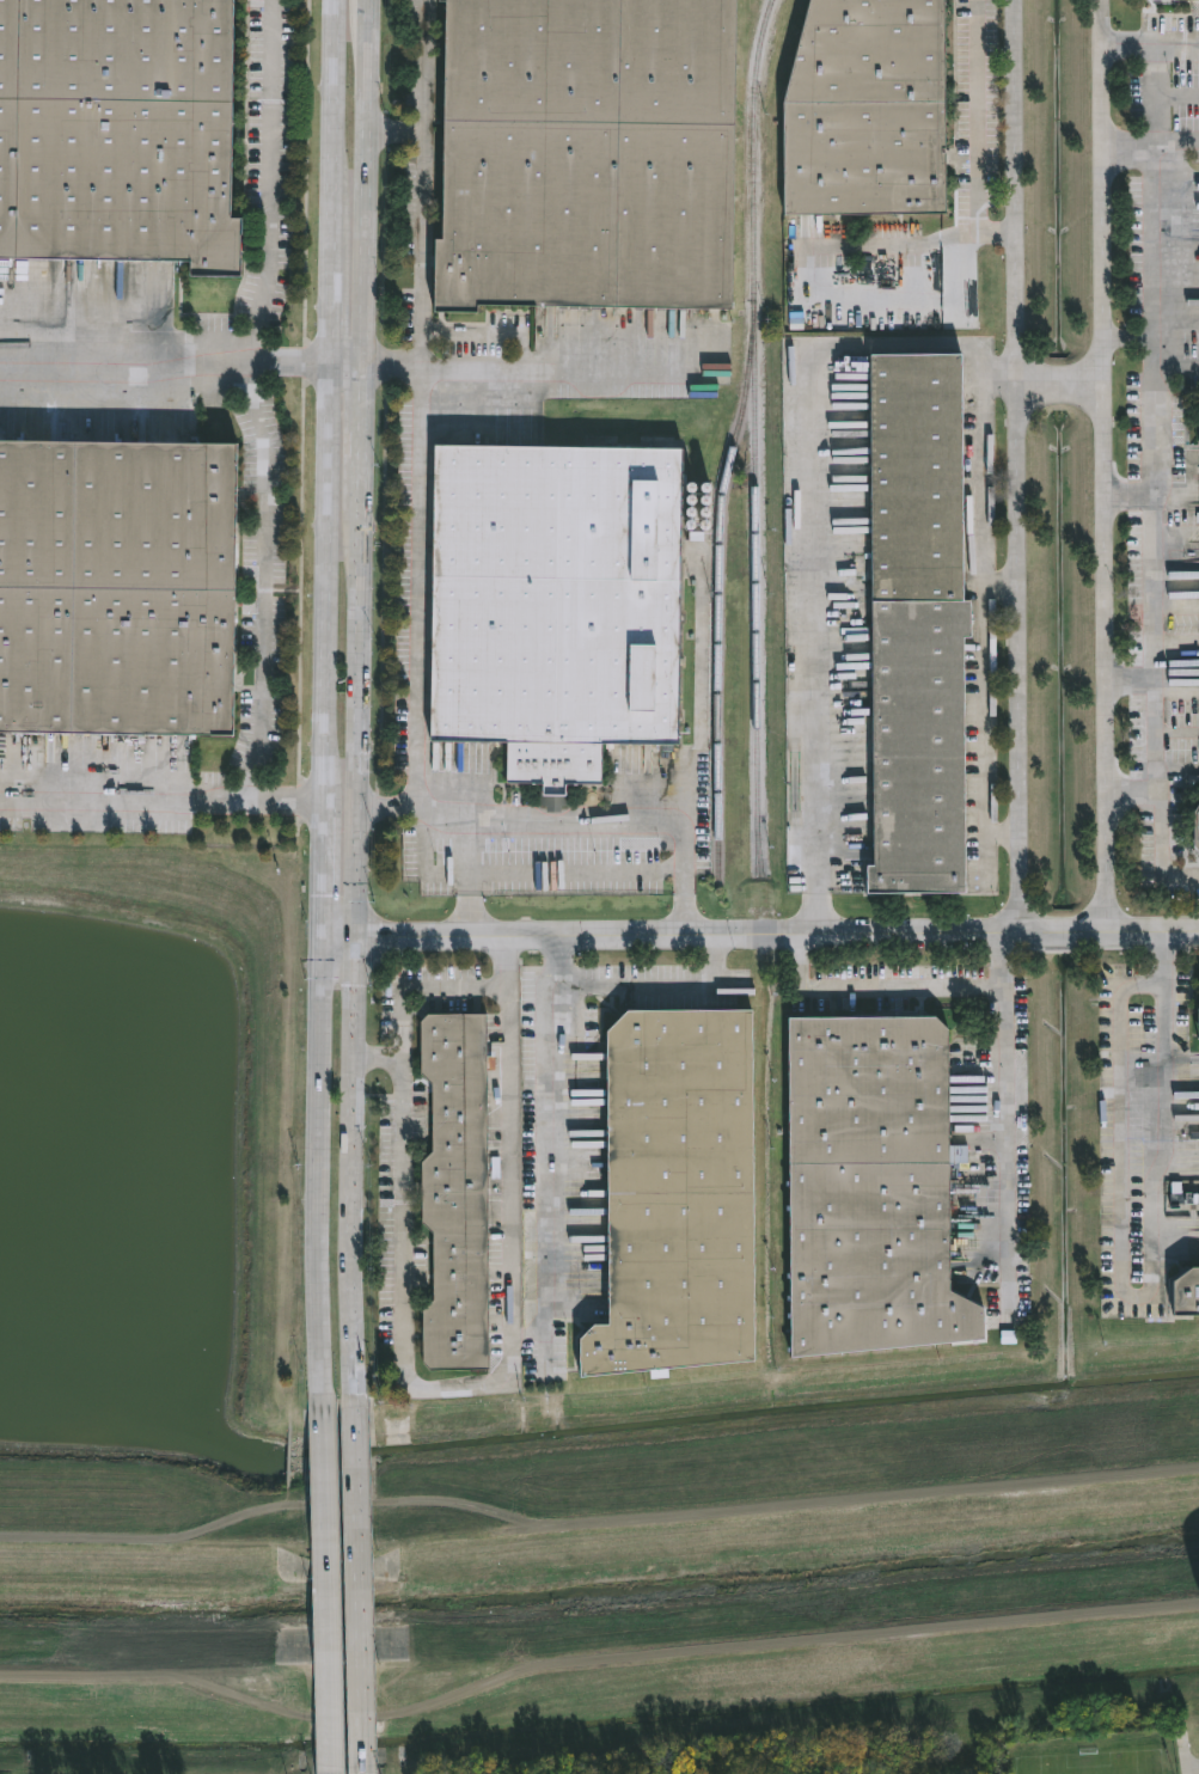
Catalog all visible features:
building: (1168, 0)
road: (1174, 49)
road: (423, 65)
road: (1175, 94)
building: (870, 109)
road: (330, 123)
building: (120, 131)
road: (975, 134)
road: (1175, 139)
building: (592, 154)
road: (1127, 154)
road: (362, 182)
road: (270, 183)
road: (422, 220)
road: (888, 245)
road: (328, 306)
road: (1128, 335)
road: (163, 365)
road: (343, 365)
road: (557, 371)
road: (1155, 396)
road: (359, 423)
road: (1105, 465)
road: (1021, 466)
road: (807, 472)
railway: (754, 473)
road: (1131, 496)
road: (420, 558)
road: (1003, 582)
road: (265, 586)
road: (322, 586)
building: (118, 588)
railway: (718, 588)
building: (559, 605)
building: (920, 625)
road: (985, 635)
road: (1133, 679)
road: (355, 709)
road: (159, 803)
road: (336, 807)
road: (632, 824)
road: (465, 825)
road: (1160, 826)
road: (1005, 836)
road: (317, 871)
railway: (764, 899)
road: (334, 937)
road: (776, 937)
road: (654, 983)
road: (899, 987)
road: (552, 1114)
road: (1007, 1144)
road: (353, 1156)
road: (316, 1157)
building: (874, 1189)
building: (459, 1194)
building: (681, 1195)
road: (1144, 1292)
building: (1188, 1296)
road: (430, 1390)
road: (357, 1574)
road: (322, 1576)
park: (1094, 1758)

